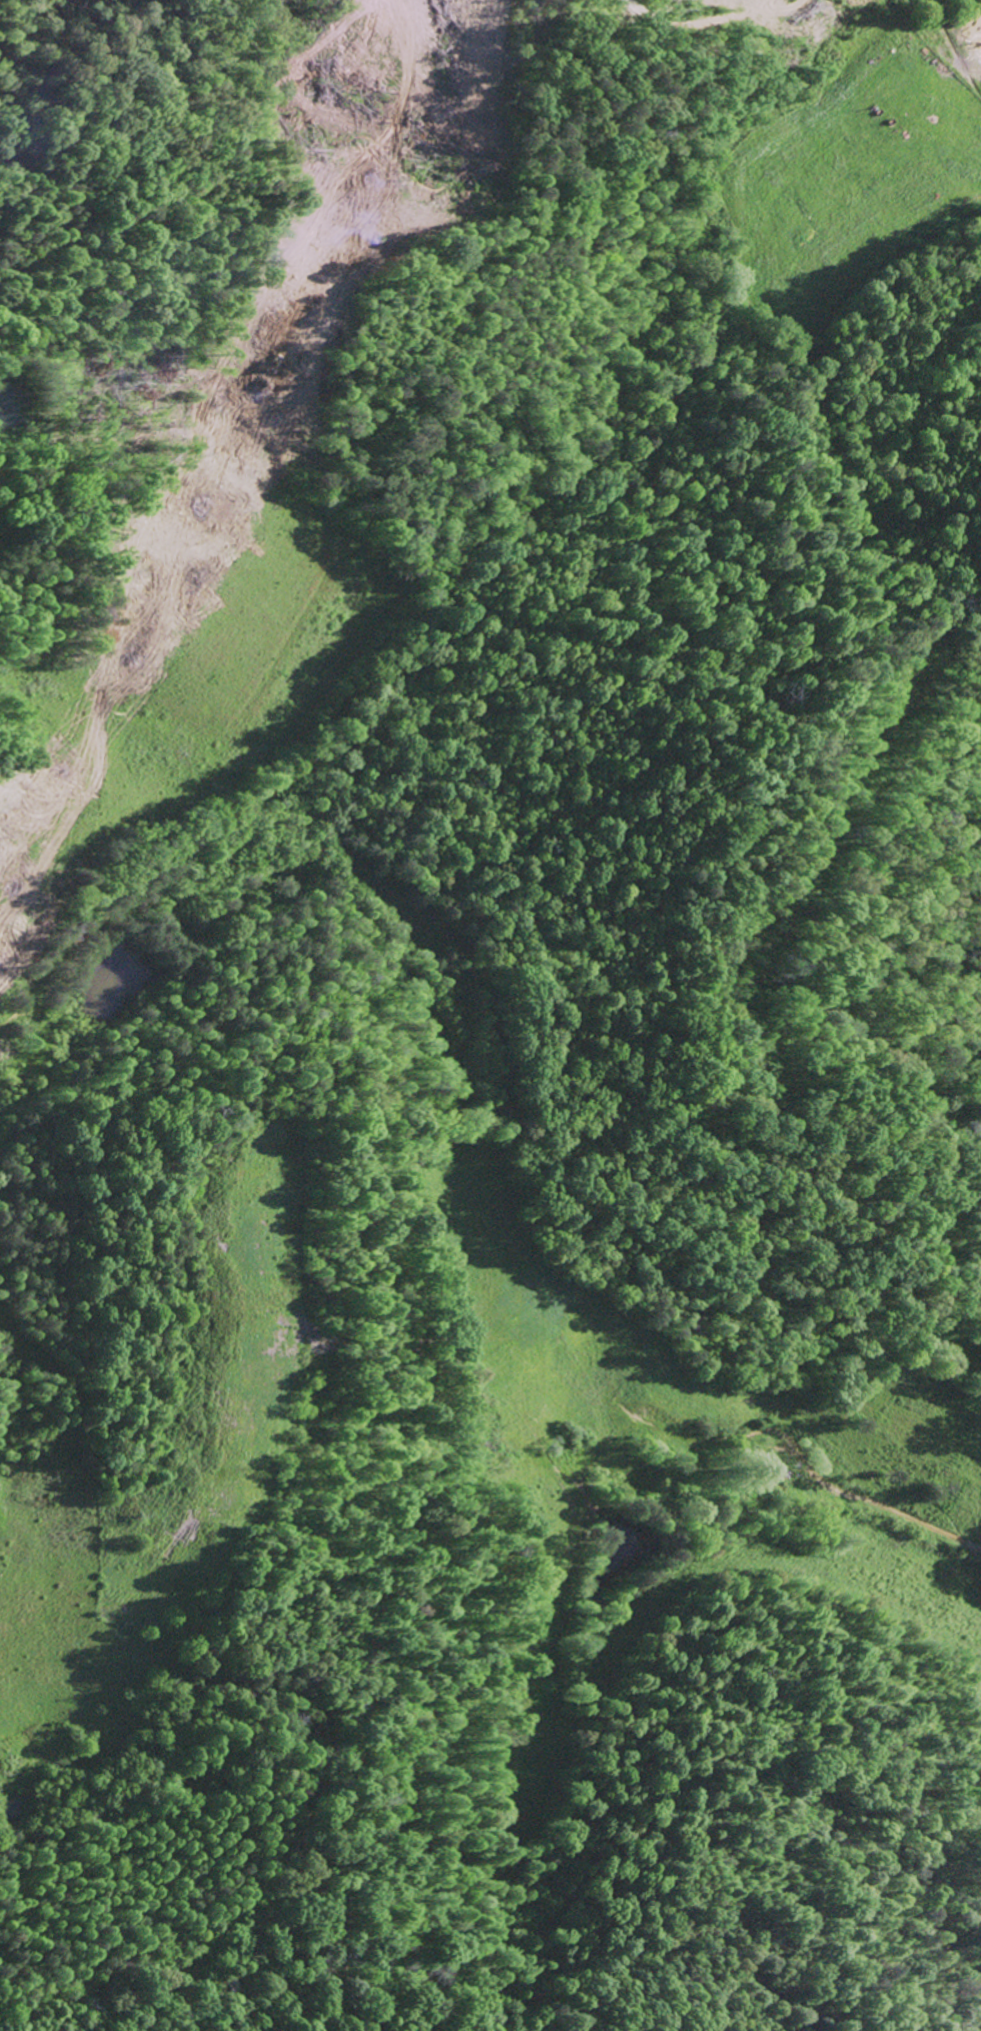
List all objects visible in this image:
road: (670, 292)
road: (278, 498)
road: (177, 651)
road: (818, 1883)

